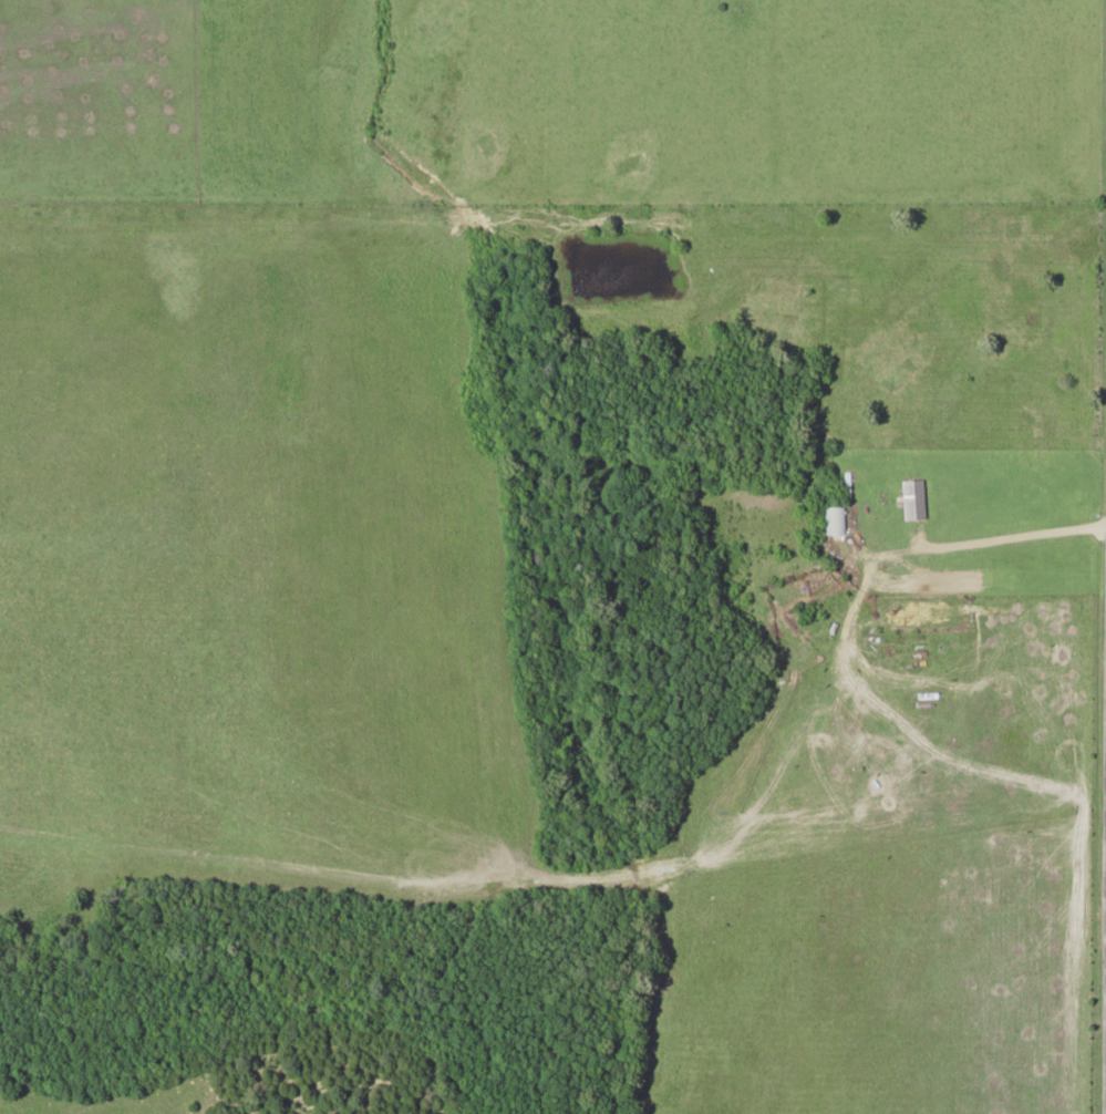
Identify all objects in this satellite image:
building: (787, 314)
building: (909, 396)
building: (916, 498)
building: (835, 518)

